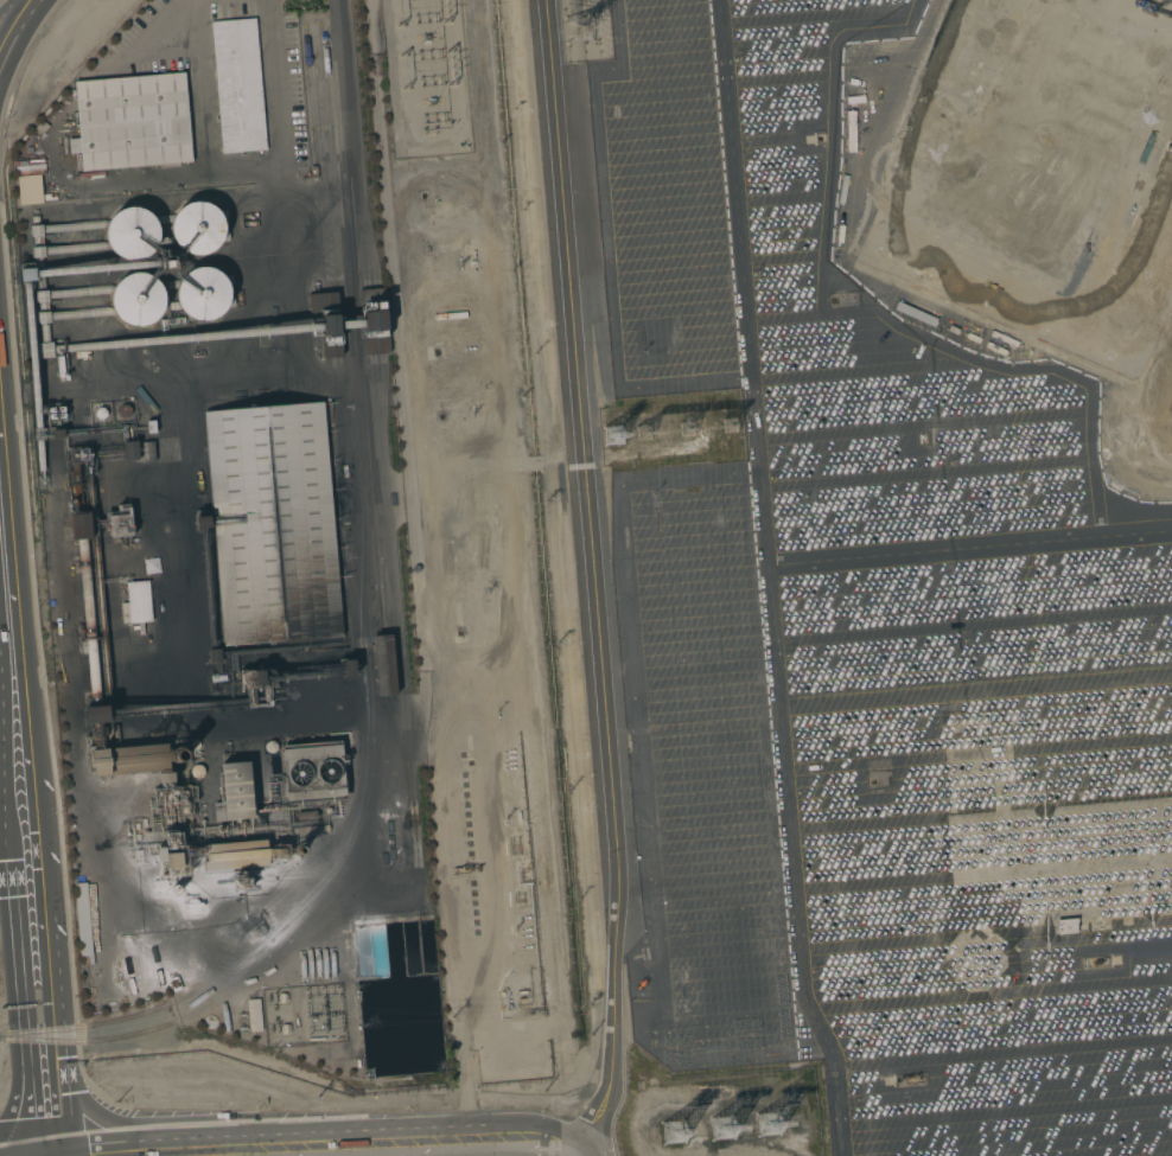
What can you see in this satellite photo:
road: (4, 4)
road: (15, 27)
power tower: (579, 30)
power substation: (426, 78)
building: (237, 84)
building: (132, 122)
building: (42, 127)
road: (241, 168)
building: (30, 190)
railway: (330, 203)
railway: (329, 204)
building: (197, 228)
building: (130, 234)
building: (167, 263)
building: (202, 293)
building: (136, 299)
railway: (346, 306)
building: (100, 346)
building: (381, 347)
building: (123, 411)
building: (100, 413)
building: (56, 414)
power tower: (727, 426)
power tower: (684, 429)
building: (60, 434)
power tower: (642, 434)
power tower: (611, 435)
building: (129, 451)
building: (78, 455)
road: (766, 470)
railway: (352, 483)
railway: (375, 518)
building: (119, 522)
building: (202, 522)
building: (272, 523)
building: (79, 526)
railway: (416, 547)
road: (590, 579)
building: (135, 602)
building: (88, 640)
railway: (368, 641)
building: (214, 656)
building: (94, 715)
road: (790, 742)
road: (18, 753)
building: (128, 760)
building: (312, 773)
building: (236, 790)
road: (921, 838)
building: (1051, 842)
building: (171, 861)
petroleum well: (459, 869)
building: (81, 919)
building: (974, 959)
road: (45, 994)
building: (254, 1014)
road: (27, 1015)
power substation: (301, 1015)
road: (14, 1021)
railway: (141, 1033)
road: (49, 1039)
road: (43, 1072)
road: (50, 1122)
power tower: (765, 1125)
power tower: (720, 1129)
road: (515, 1139)
road: (352, 1149)
road: (574, 1154)

